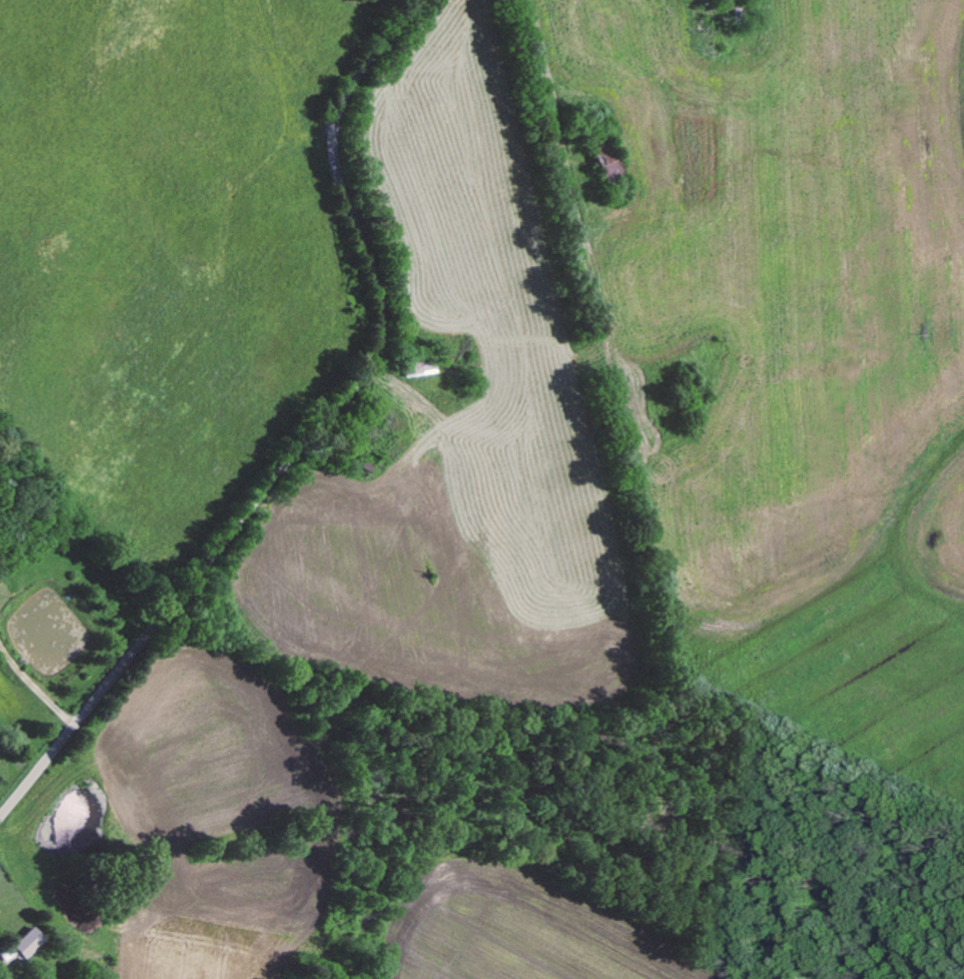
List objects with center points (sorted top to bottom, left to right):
road: (312, 433)
building: (29, 941)

